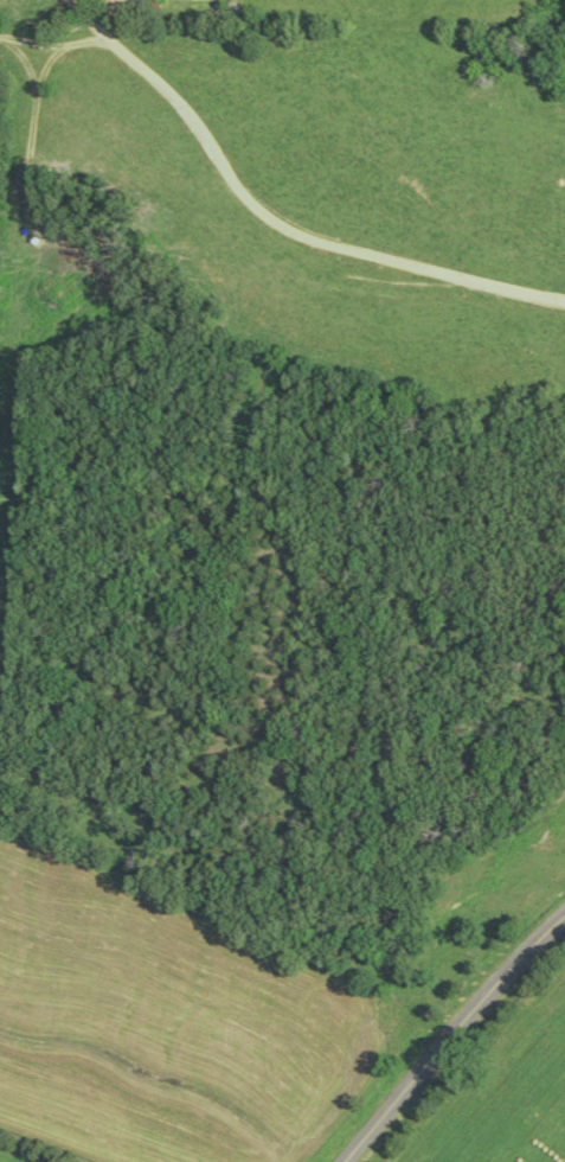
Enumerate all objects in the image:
road: (274, 223)
road: (448, 1032)

